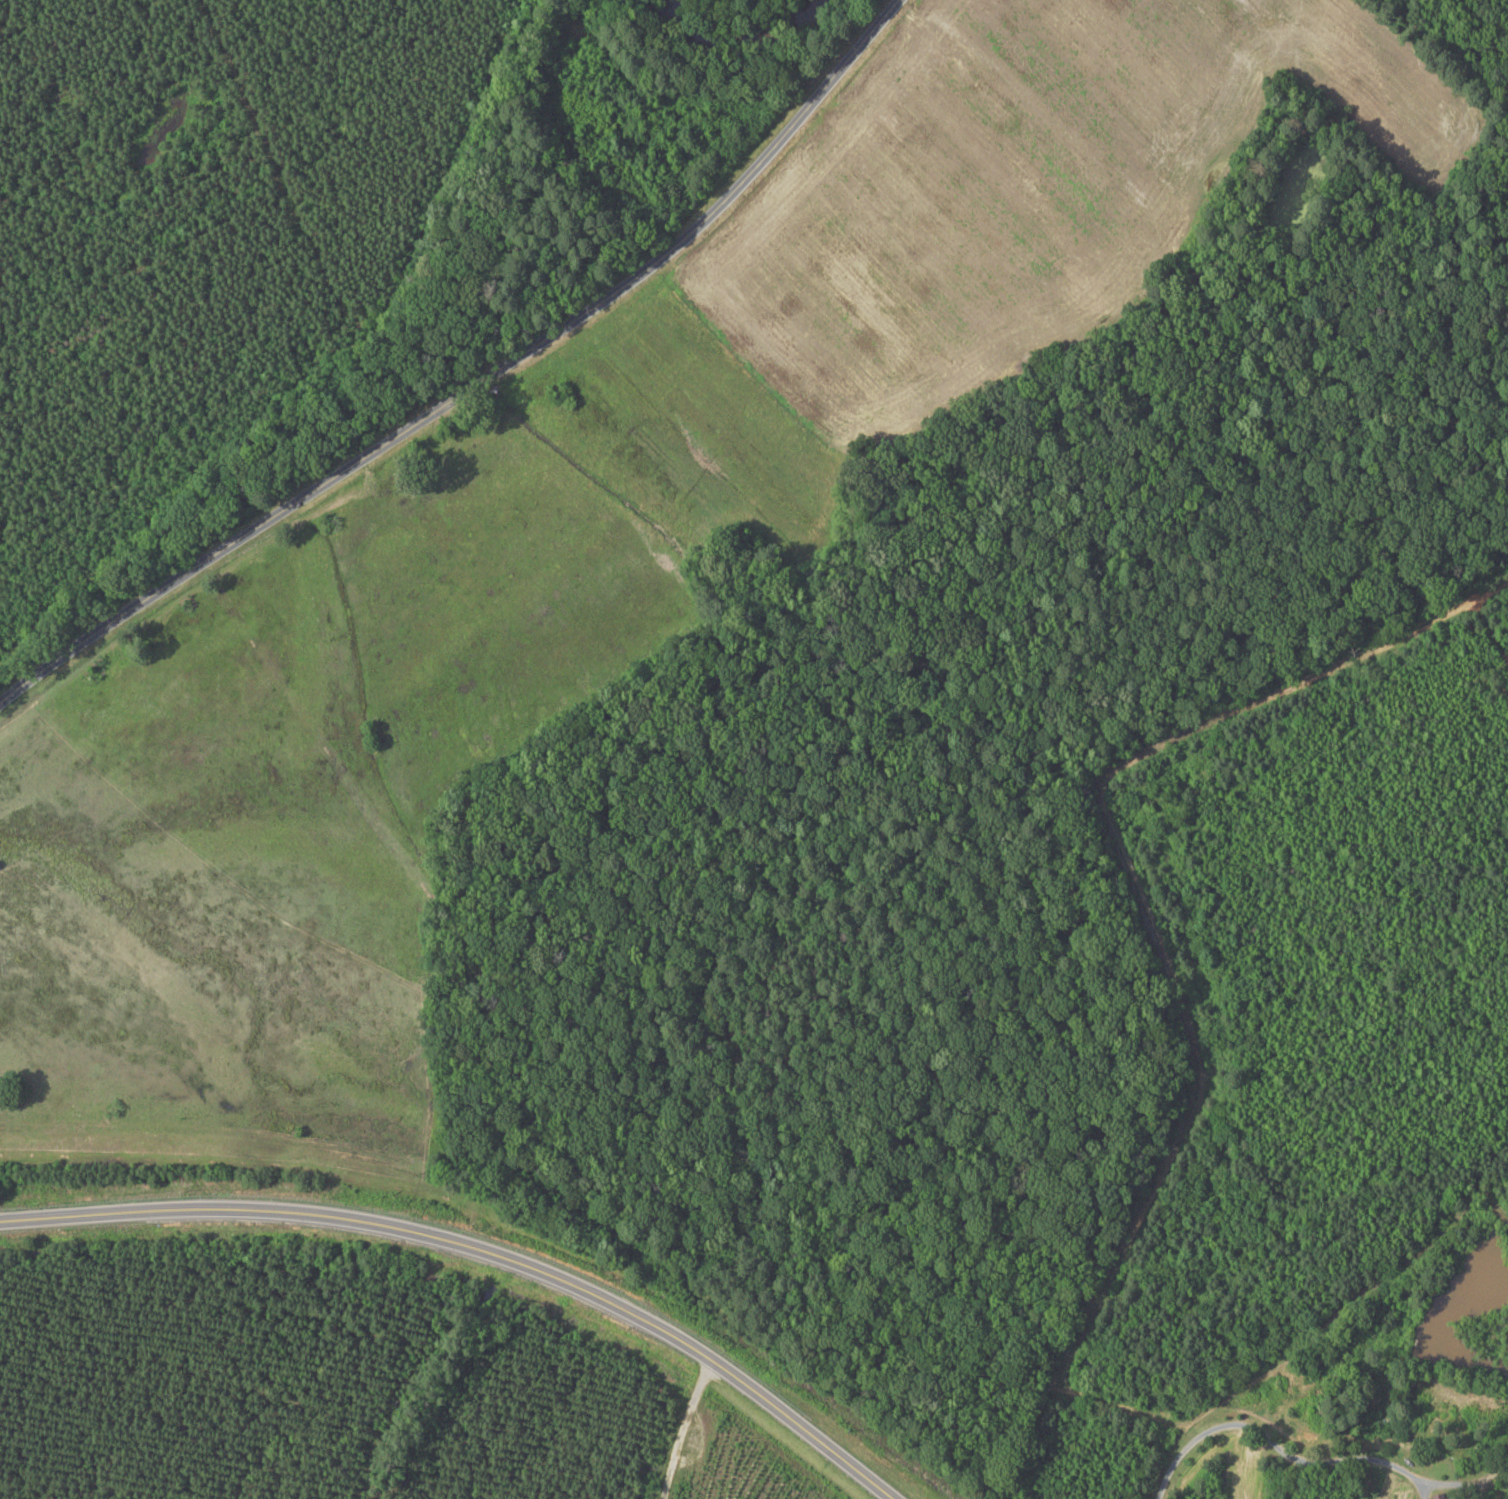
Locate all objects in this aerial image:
road: (476, 383)
road: (478, 1247)

